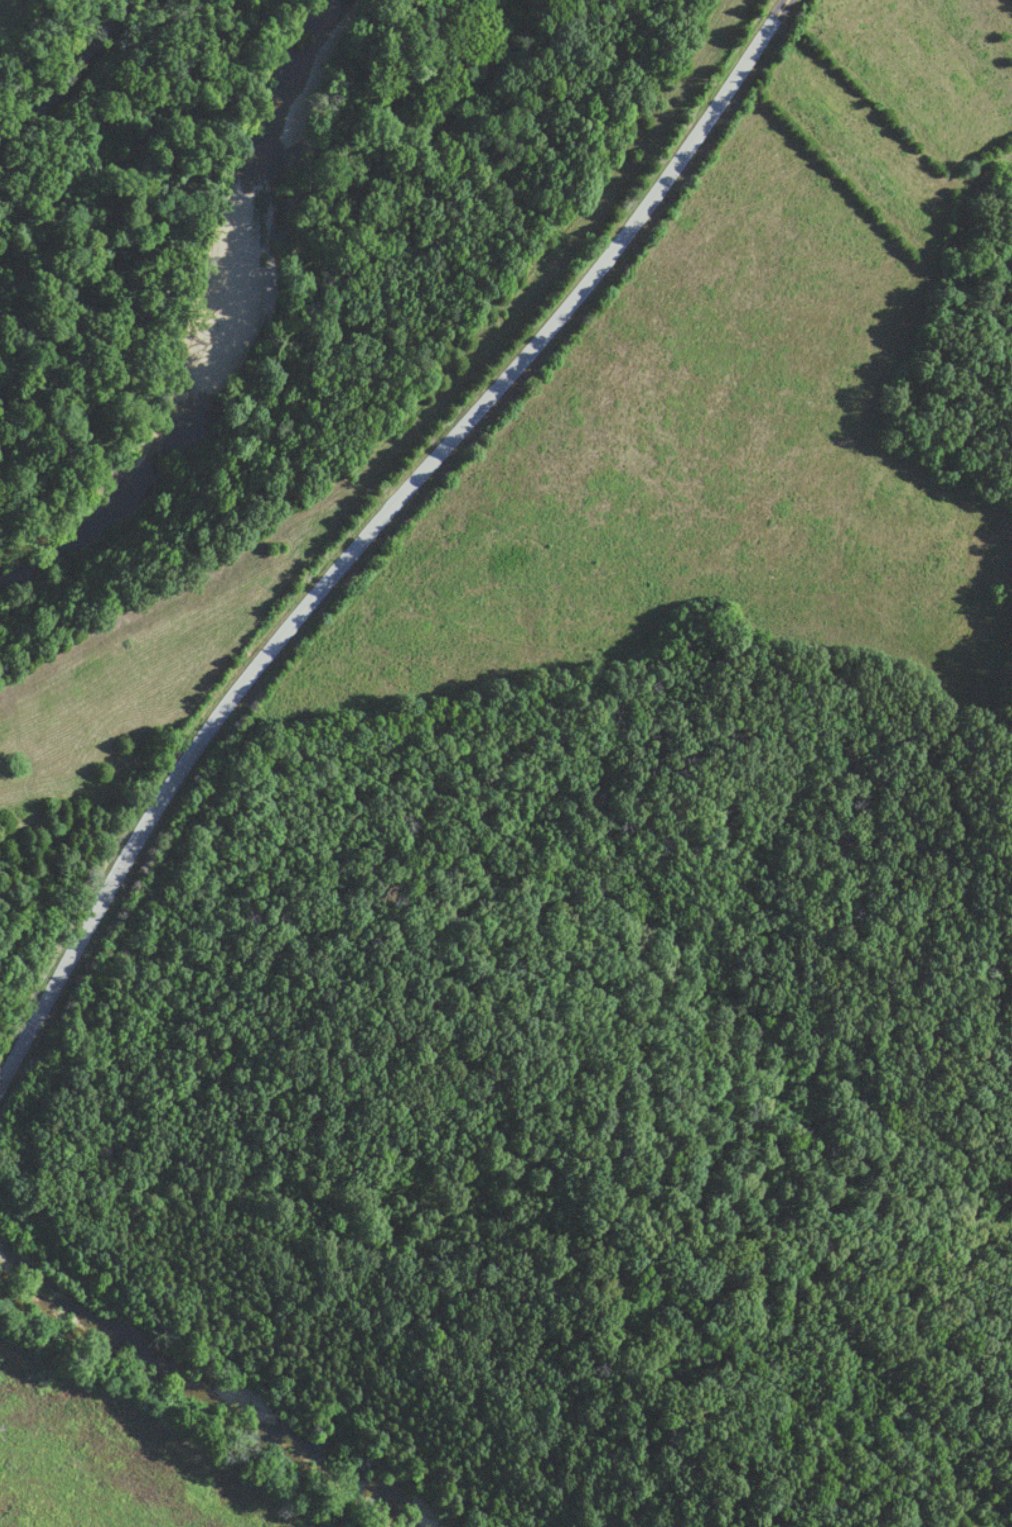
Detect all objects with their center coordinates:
river: (234, 333)
road: (374, 527)

